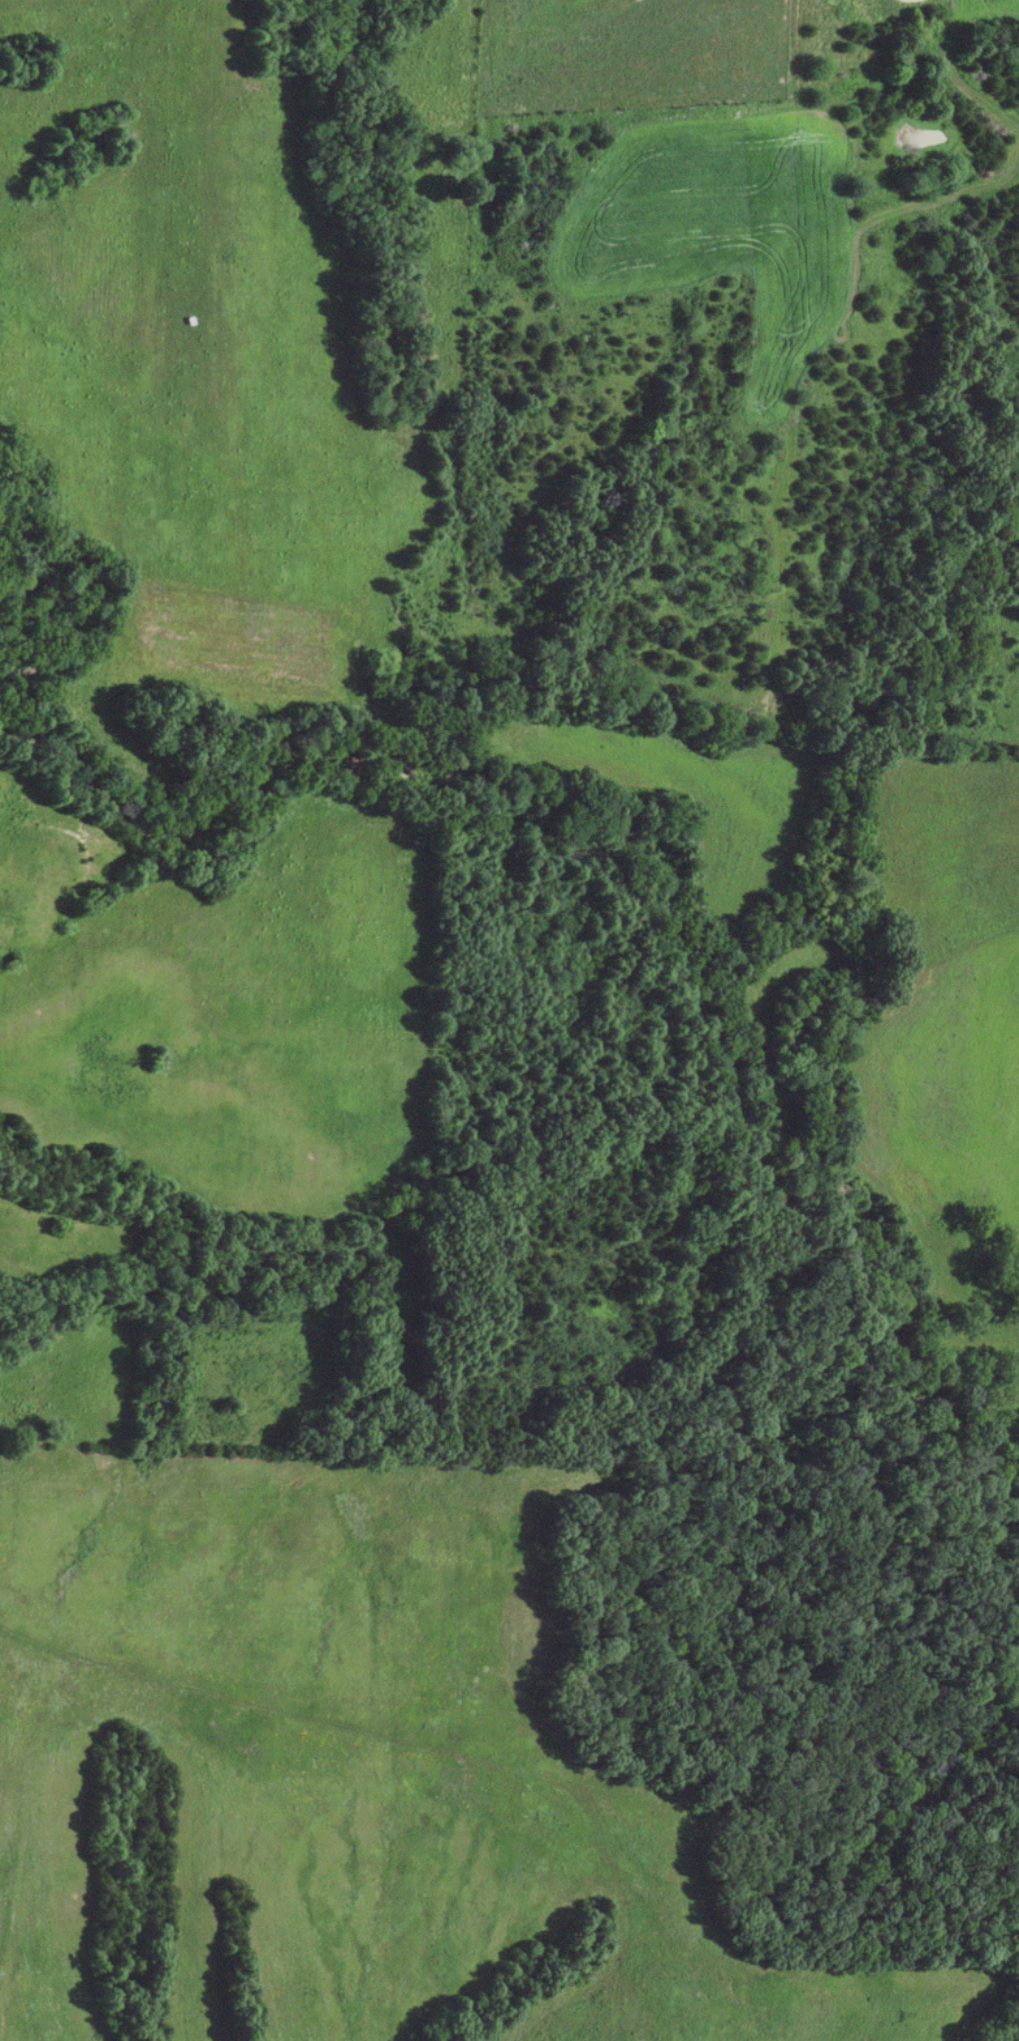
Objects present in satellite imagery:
road: (475, 34)

